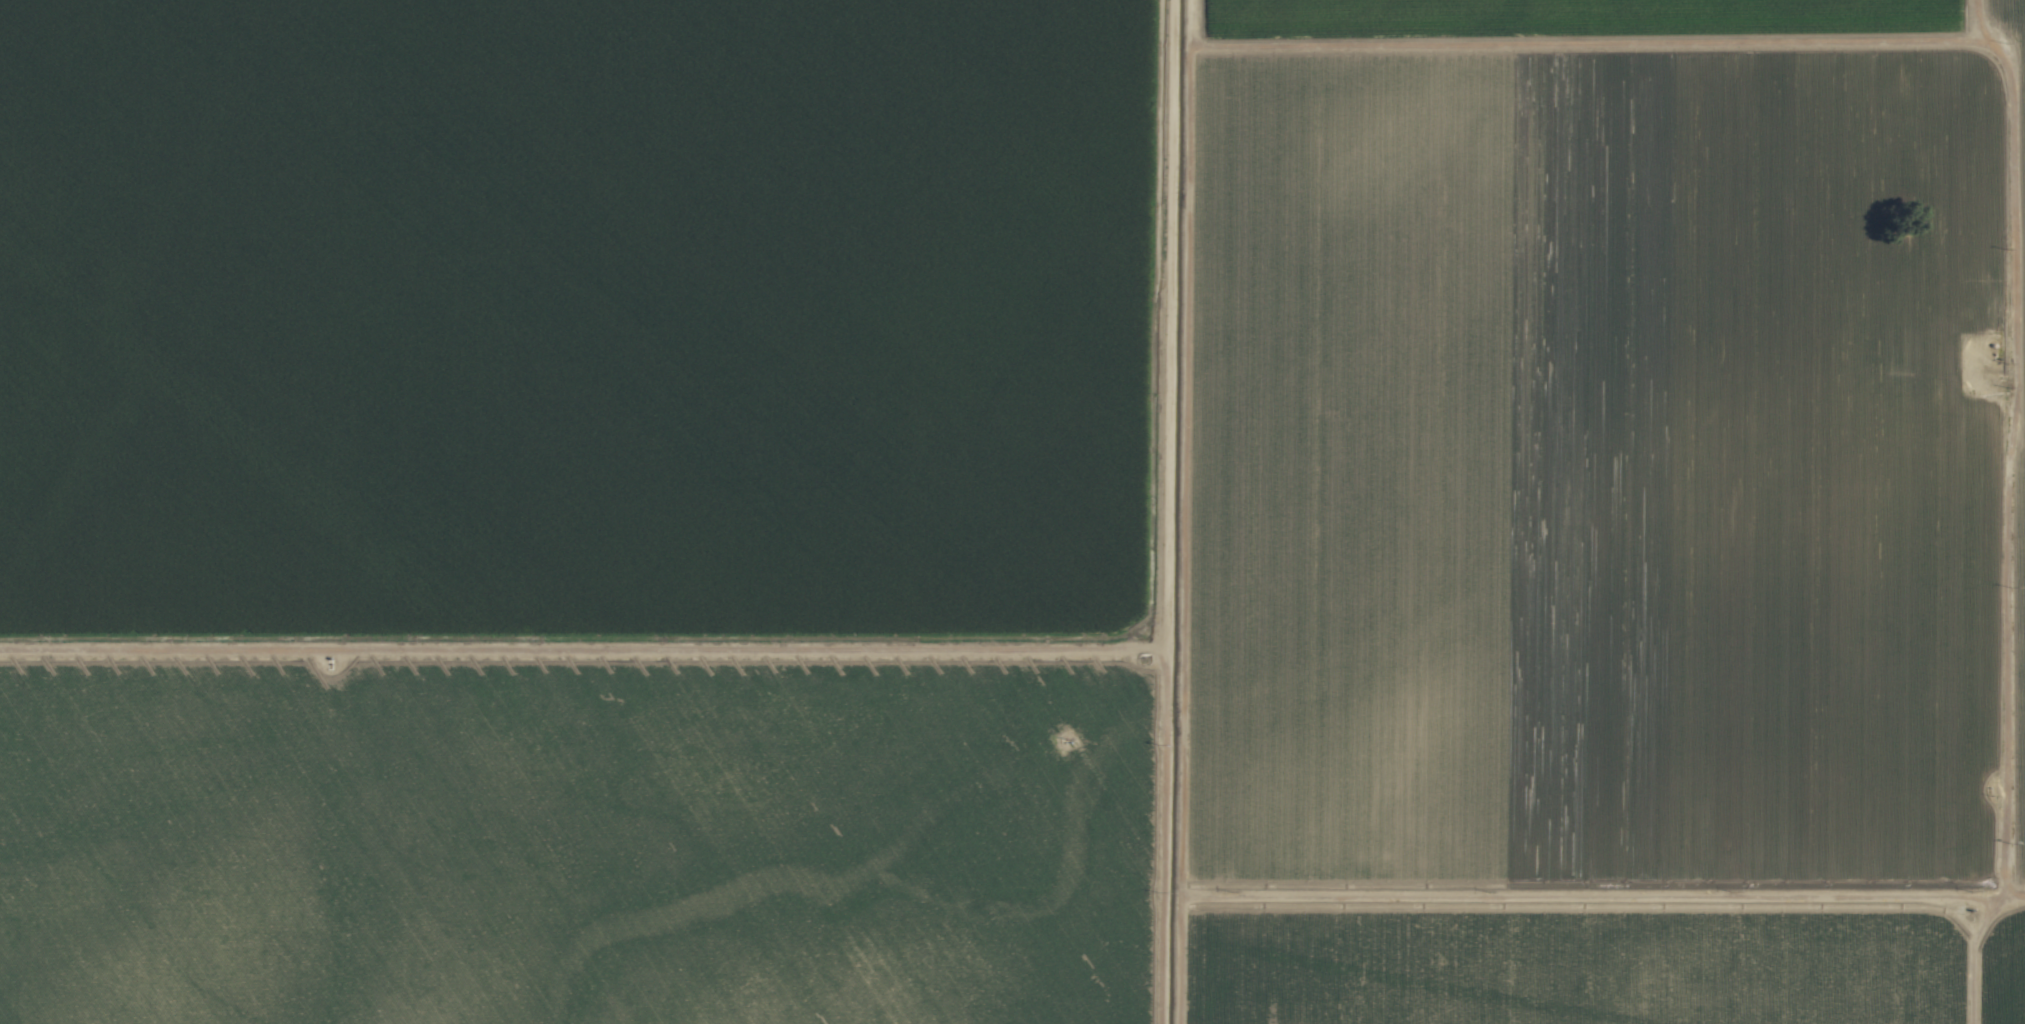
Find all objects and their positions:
road: (1167, 512)
road: (2018, 895)

